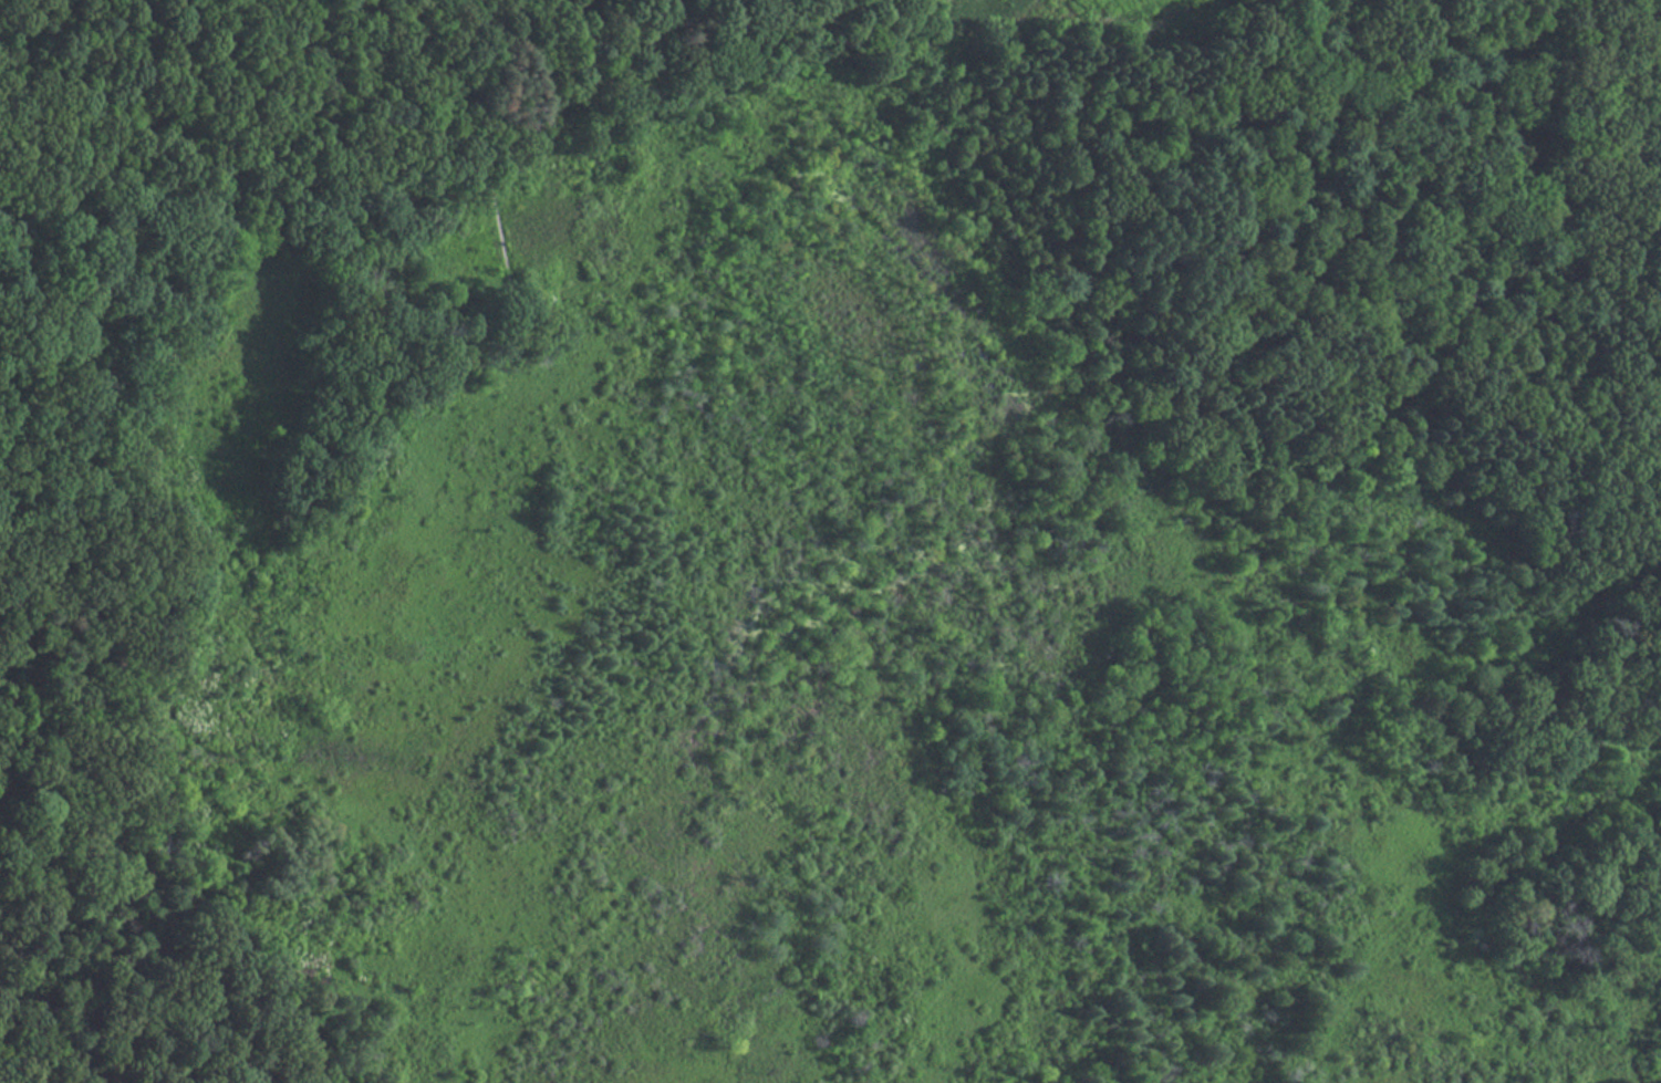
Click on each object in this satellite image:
road: (592, 74)
road: (263, 190)
road: (504, 243)
park: (828, 542)

